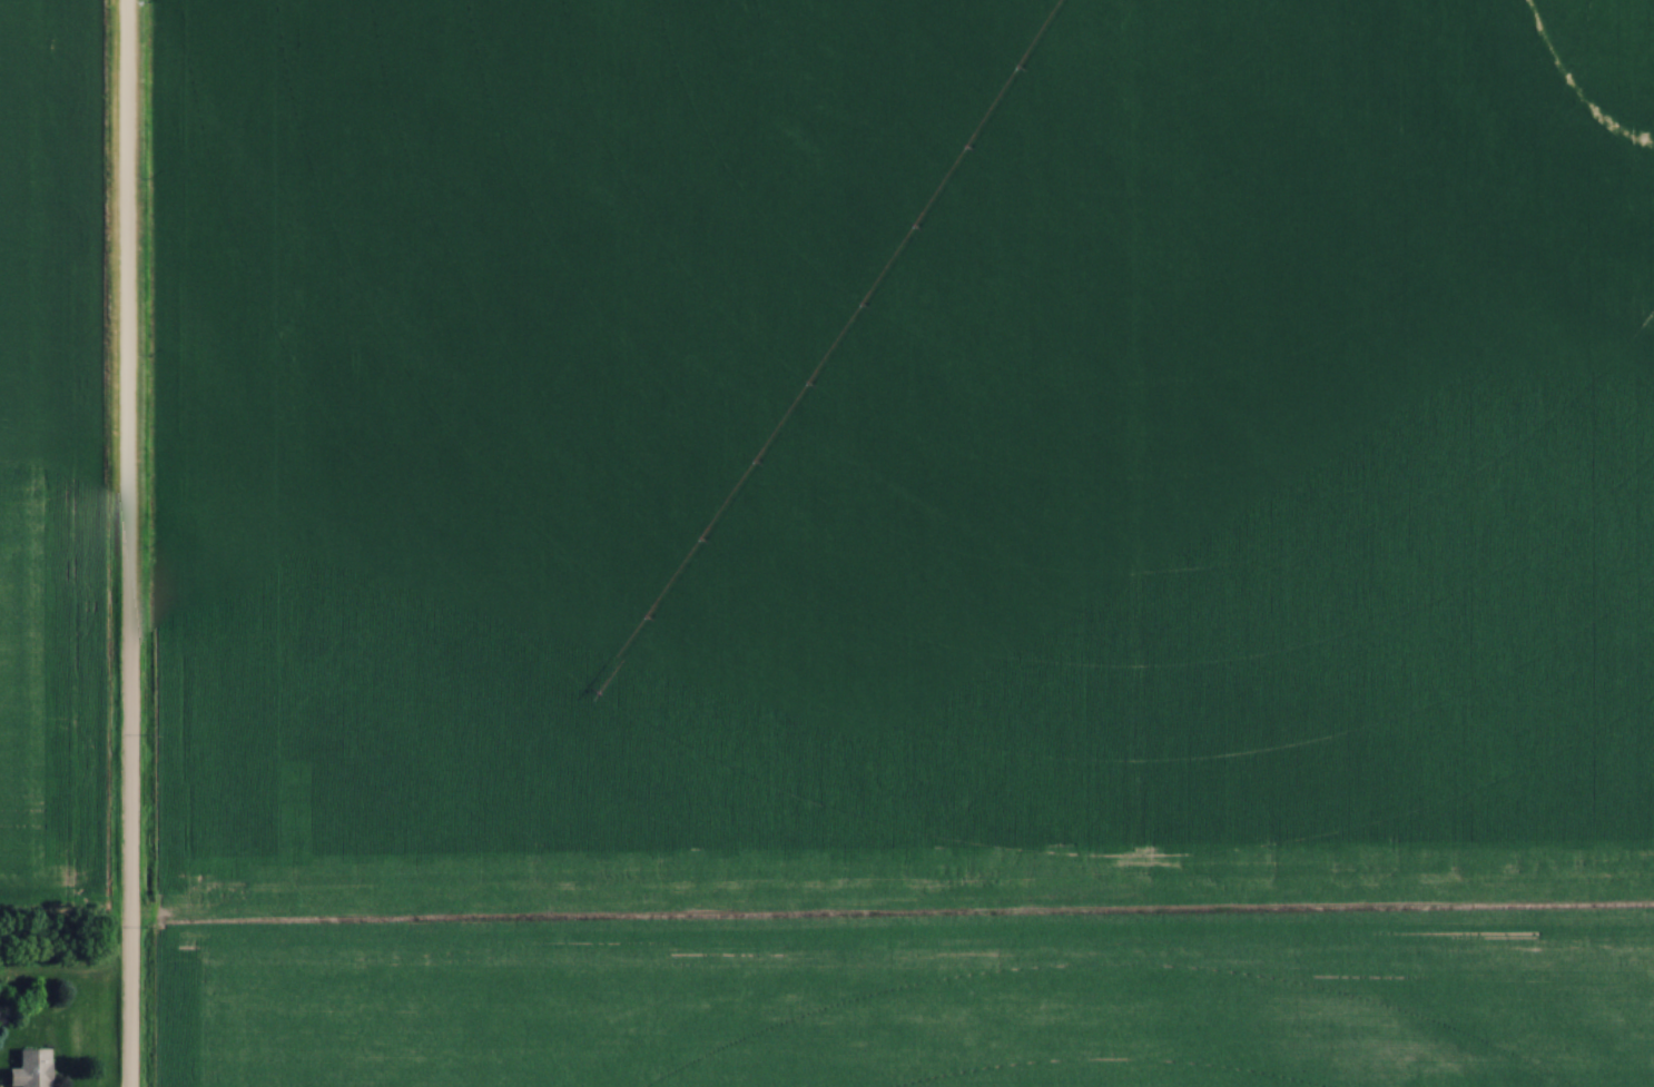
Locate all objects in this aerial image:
road: (128, 543)
building: (23, 1070)

